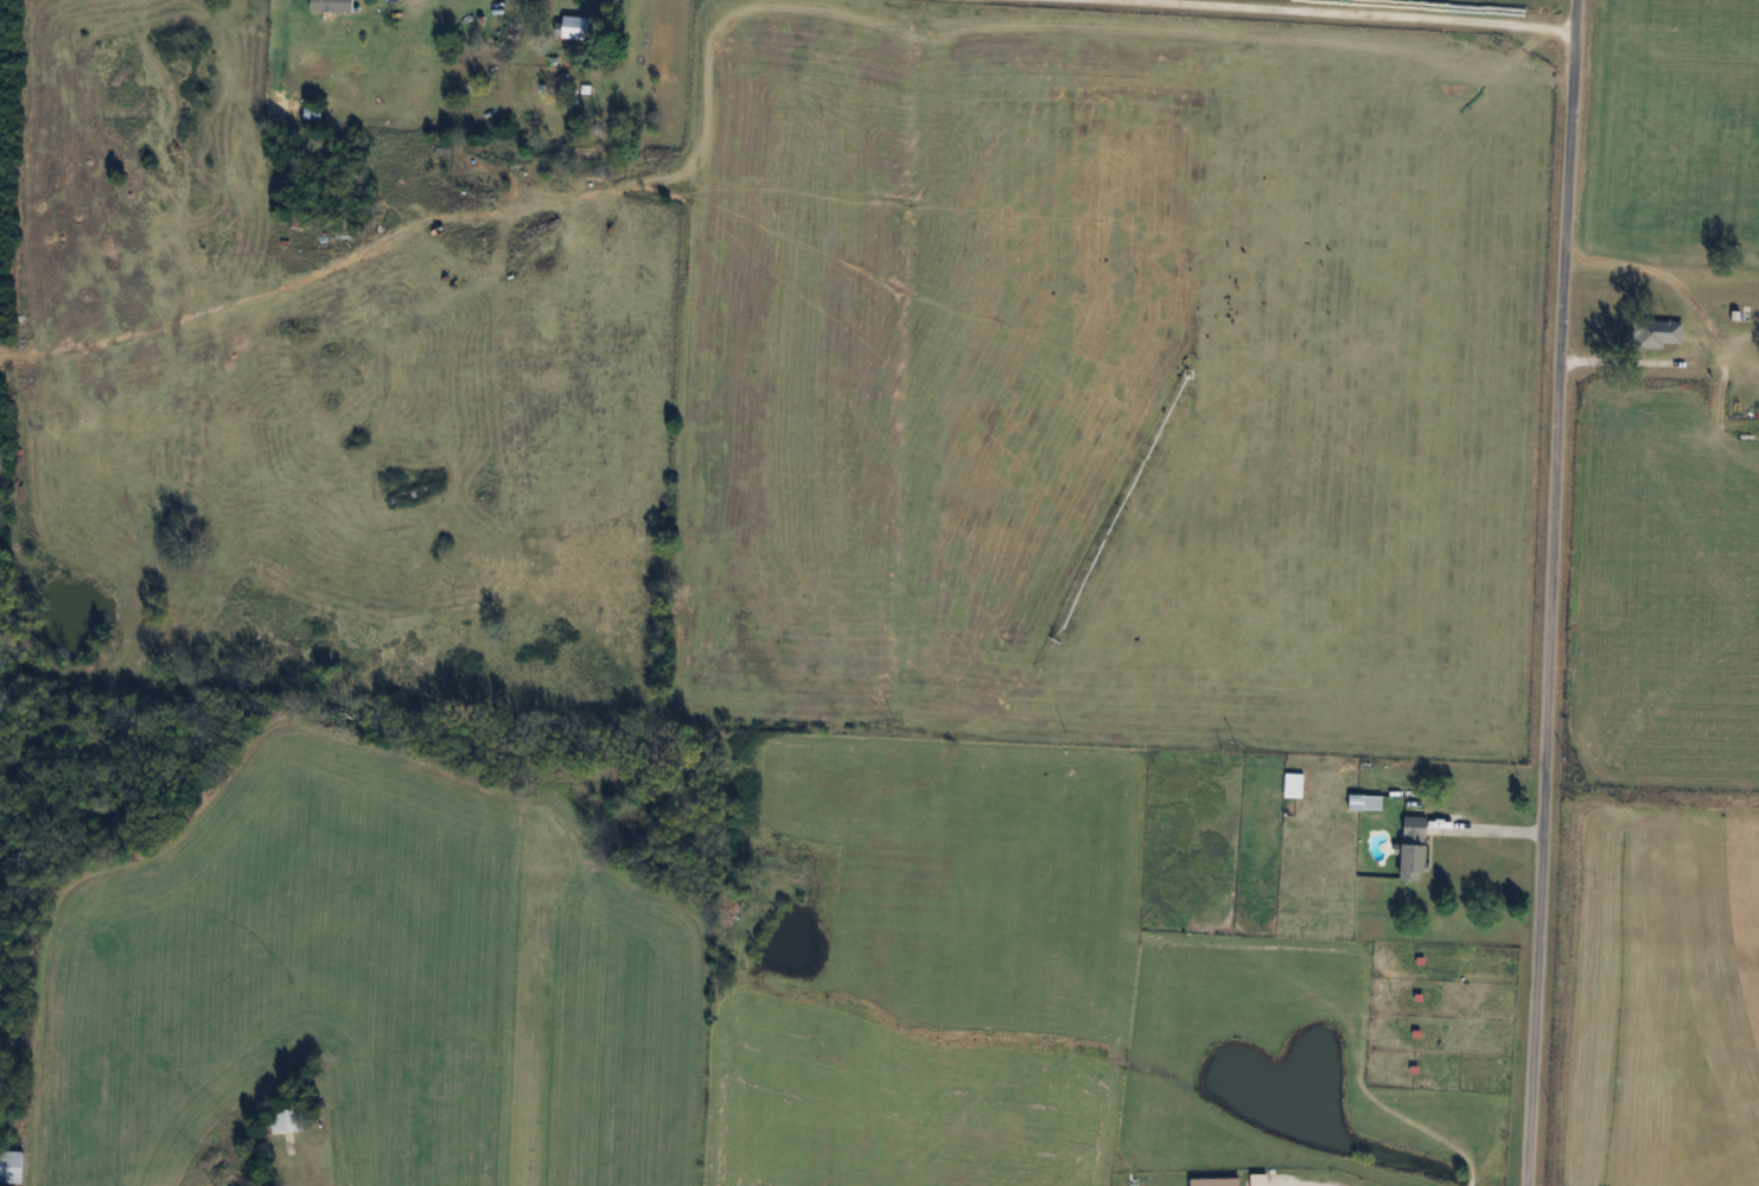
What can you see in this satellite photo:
building: (333, 6)
road: (1369, 12)
building: (574, 27)
building: (313, 113)
building: (1751, 314)
building: (1659, 331)
building: (1754, 368)
road: (1551, 592)
building: (1295, 784)
road: (1487, 827)
building: (1417, 847)
airport runway: (529, 994)
building: (288, 1120)
airport hangar: (12, 1163)
building: (13, 1165)

